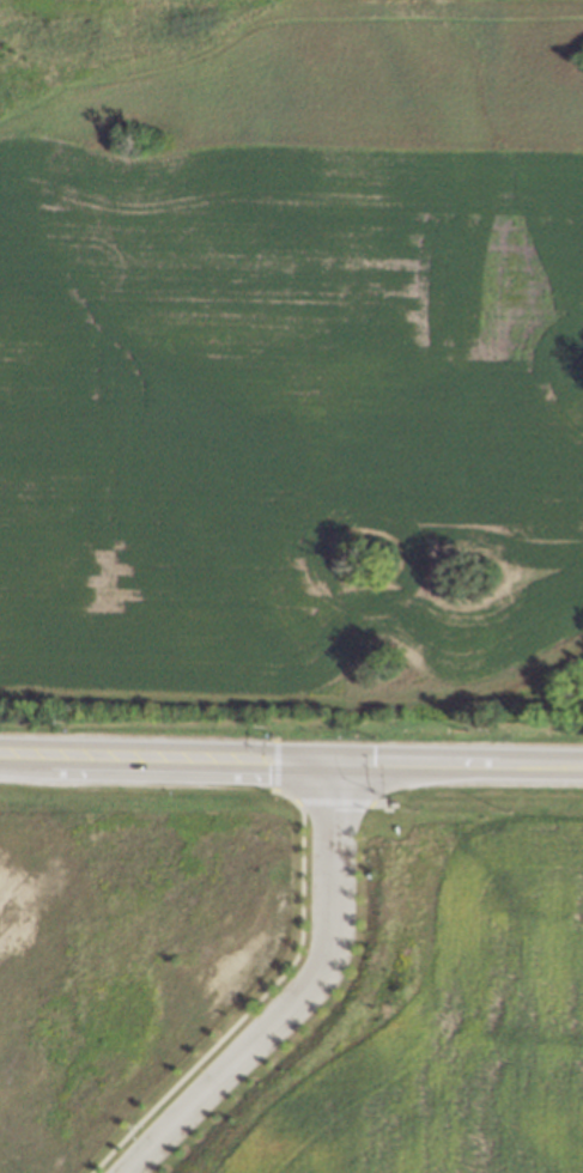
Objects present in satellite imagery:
road: (23, 755)
road: (314, 762)
traffic signals: (332, 764)
road: (300, 1001)

